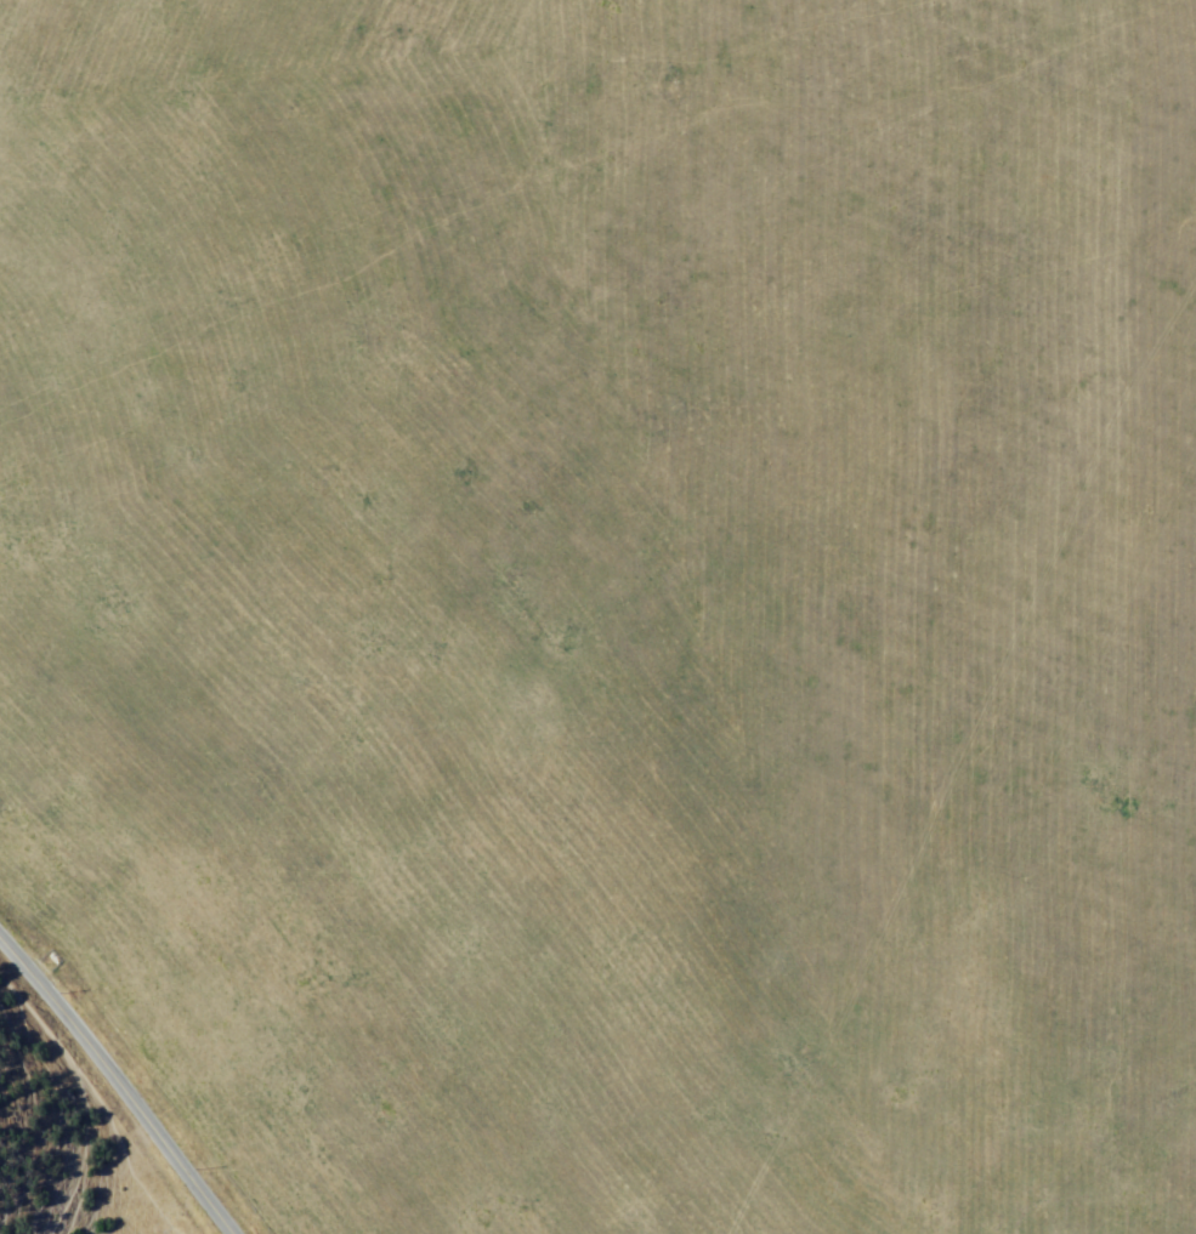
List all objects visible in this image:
crop: (612, 602)
road: (115, 1085)

